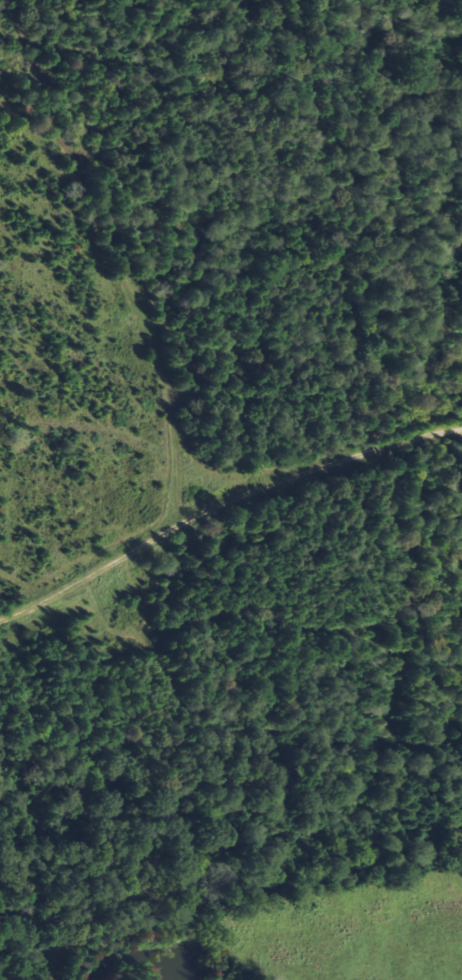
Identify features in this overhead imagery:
park: (19, 878)
road: (5, 952)

